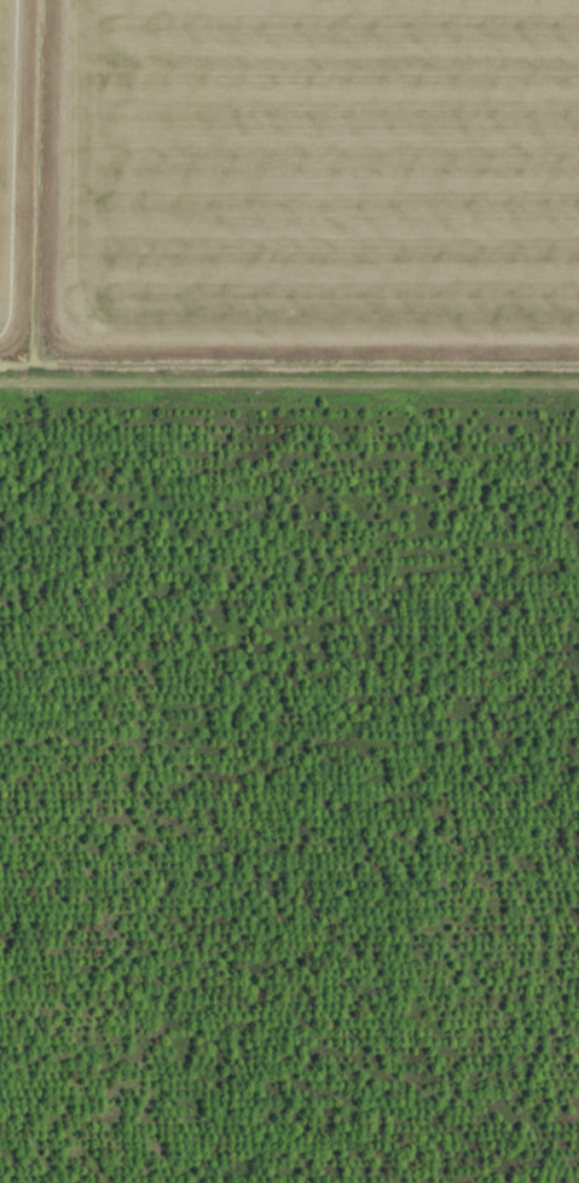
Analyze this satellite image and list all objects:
road: (36, 204)
road: (289, 413)

